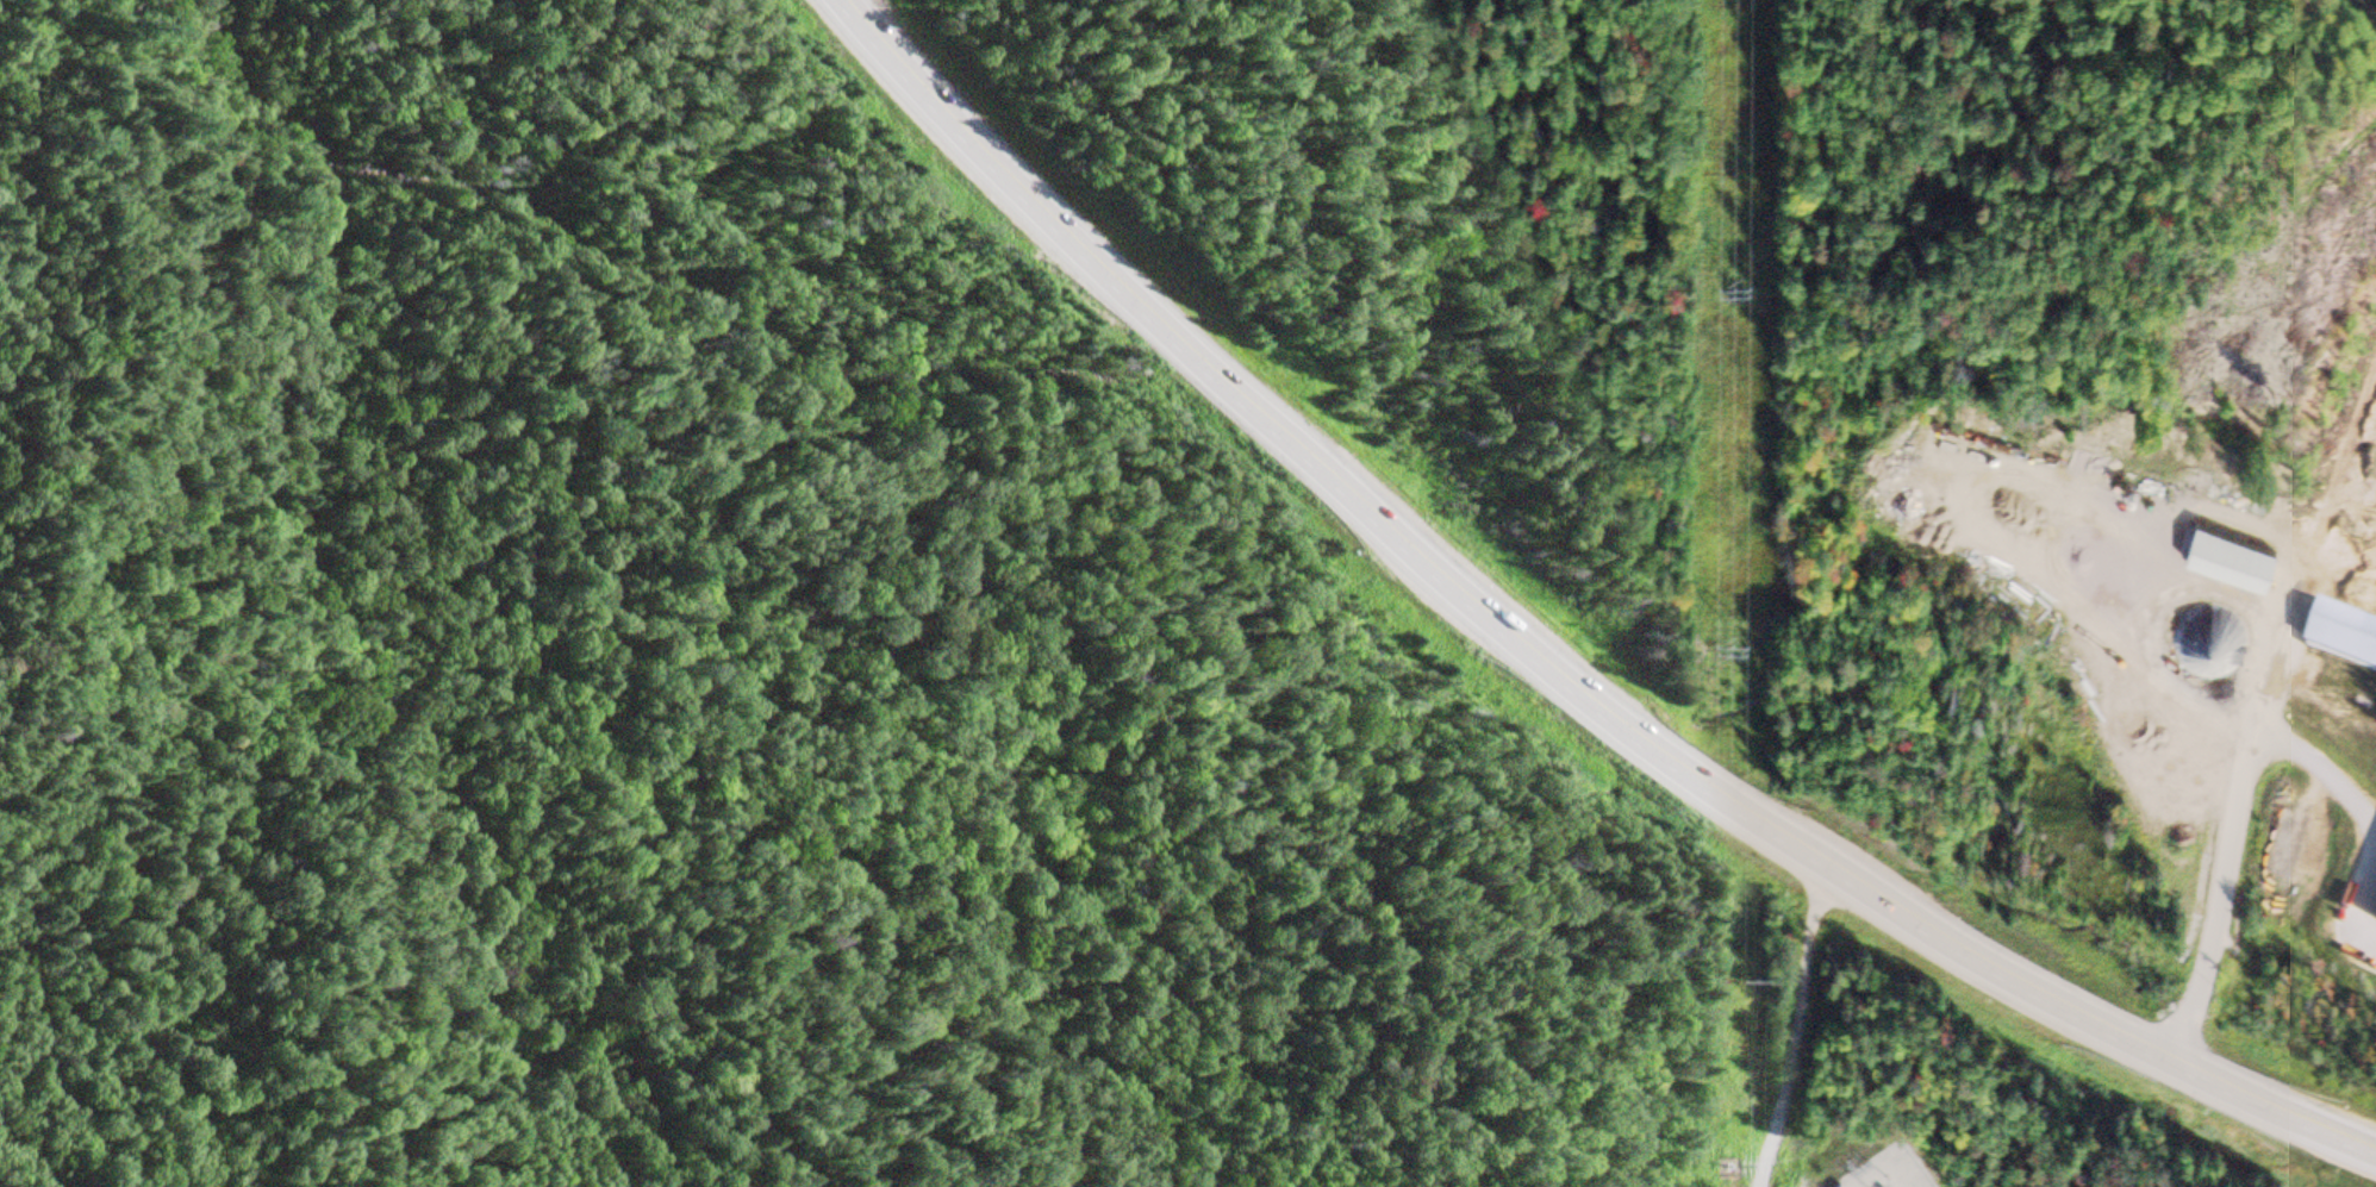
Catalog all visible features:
road: (206, 119)
power tower: (1740, 275)
park: (665, 330)
building: (2235, 563)
power tower: (1736, 626)
building: (2212, 627)
road: (1544, 664)
road: (2233, 827)
power tower: (1736, 986)
power tower: (1729, 1168)
power substation: (1891, 1172)

